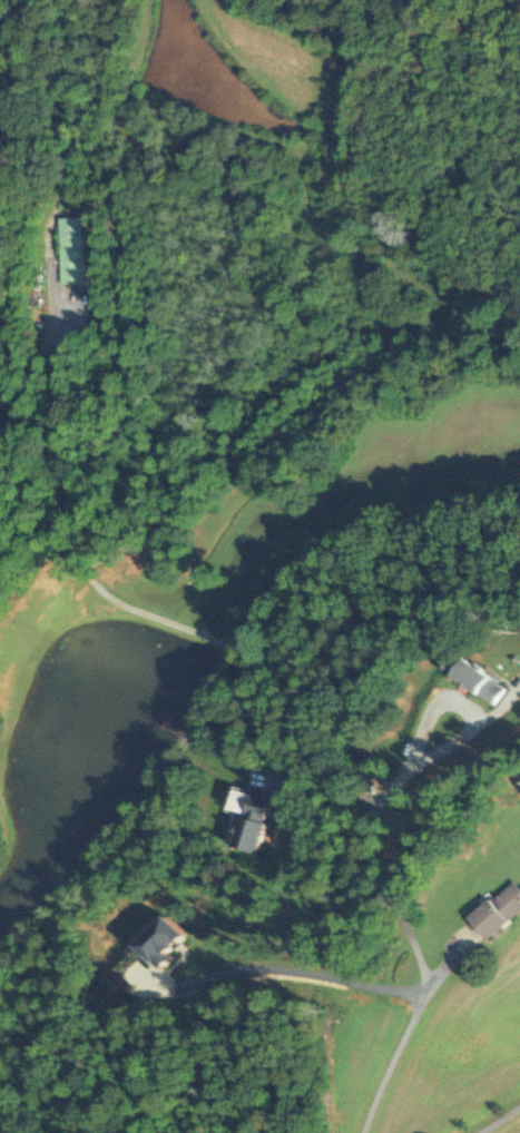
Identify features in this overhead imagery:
building: (68, 249)
road: (31, 372)
building: (470, 678)
road: (458, 705)
building: (249, 820)
building: (497, 908)
road: (411, 945)
road: (278, 968)
road: (497, 1116)

